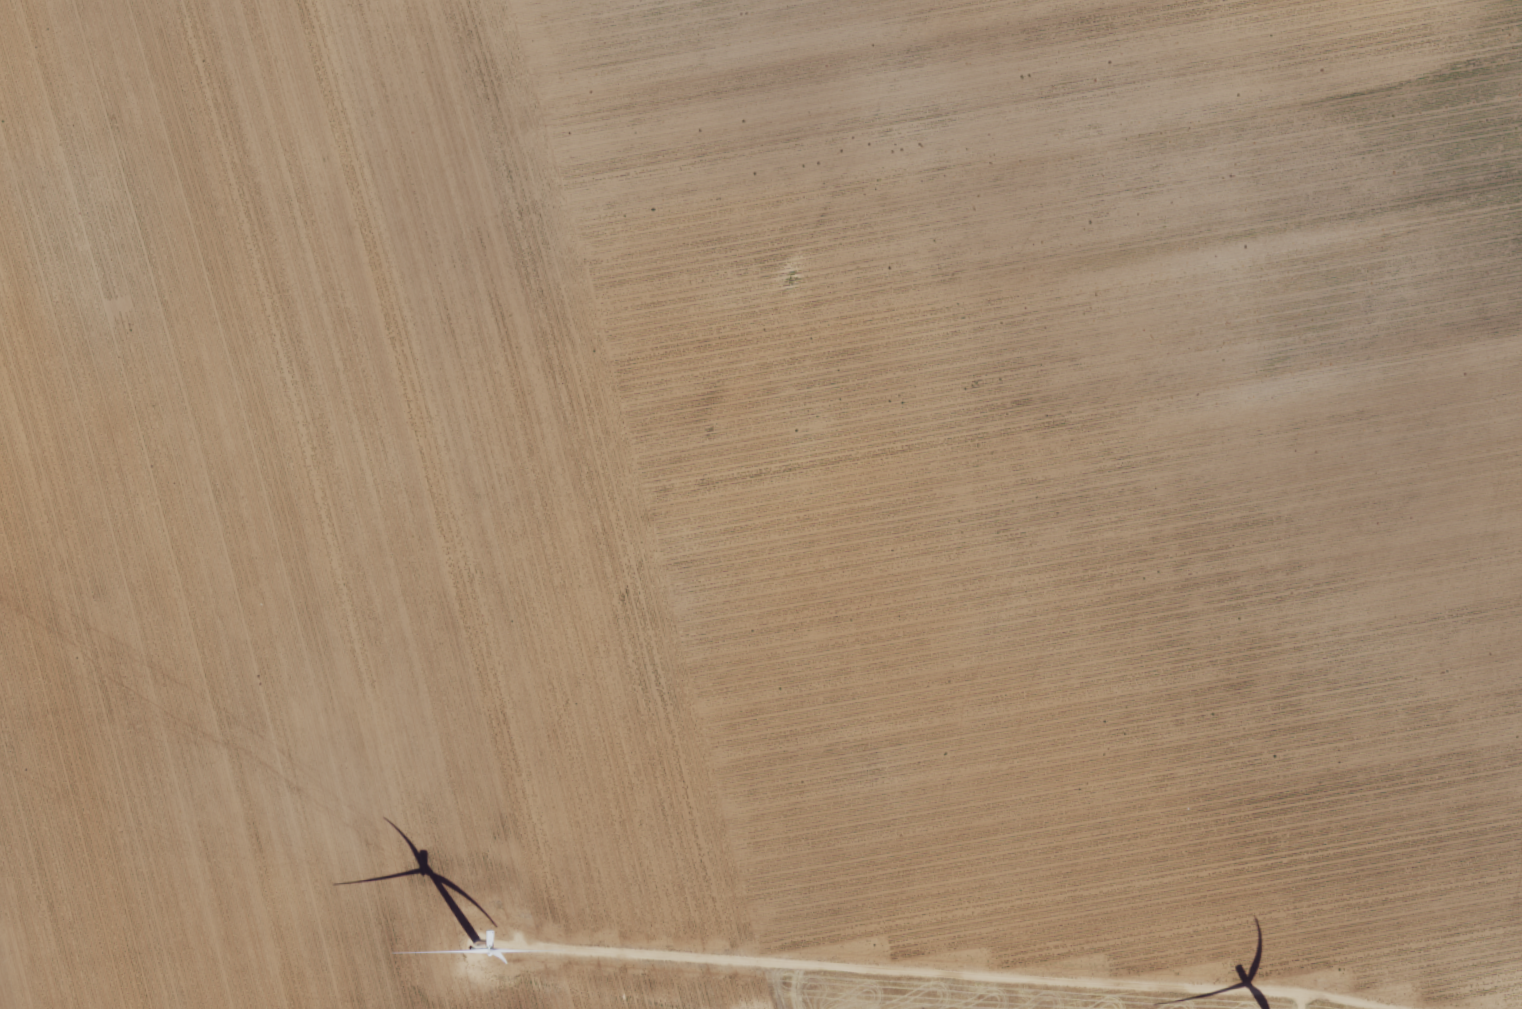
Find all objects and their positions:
wind turbine: (478, 947)

